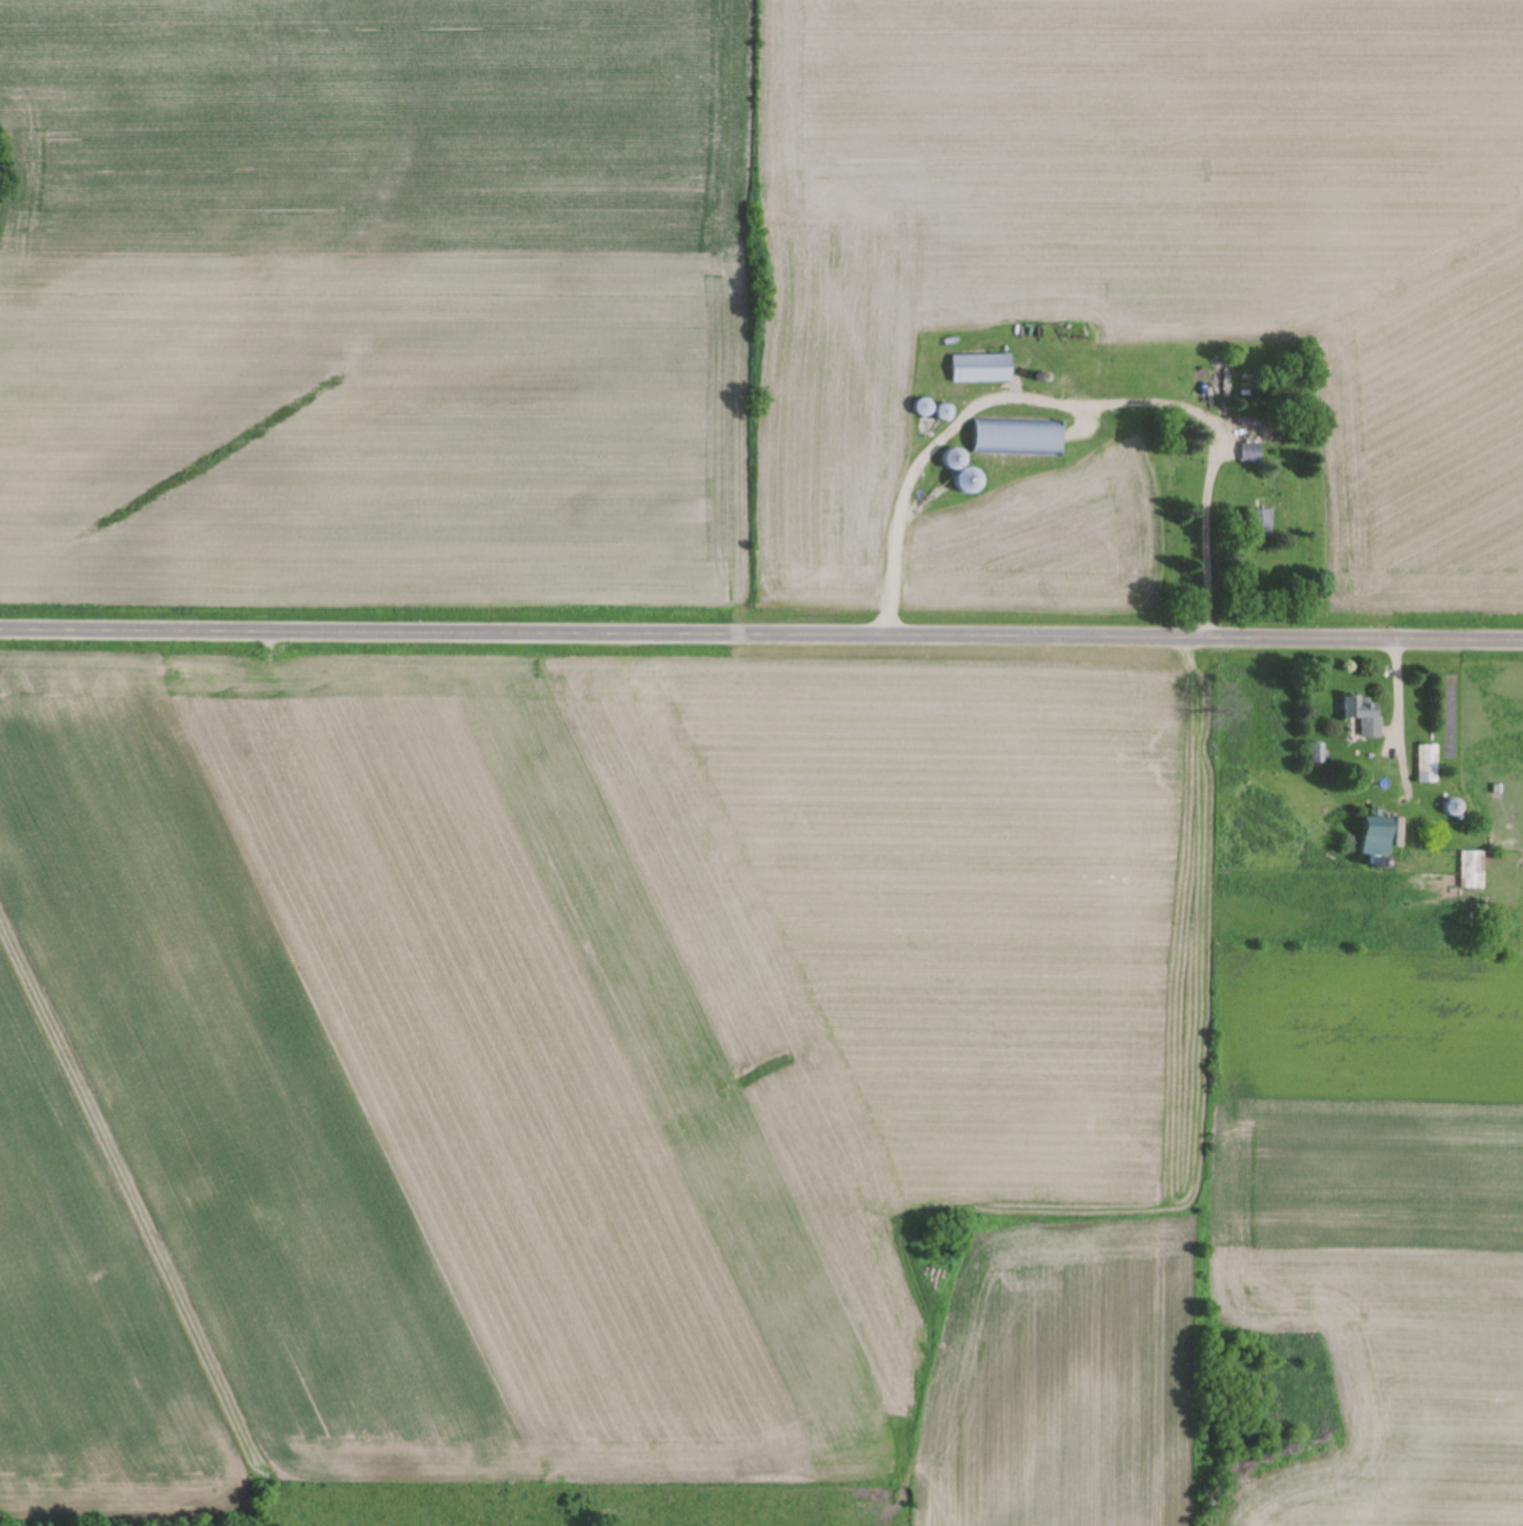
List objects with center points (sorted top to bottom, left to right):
building: (983, 369)
building: (1000, 436)
building: (1249, 454)
road: (761, 639)
building: (1365, 715)
building: (1427, 765)
building: (1454, 808)
building: (1383, 836)
building: (1472, 871)

